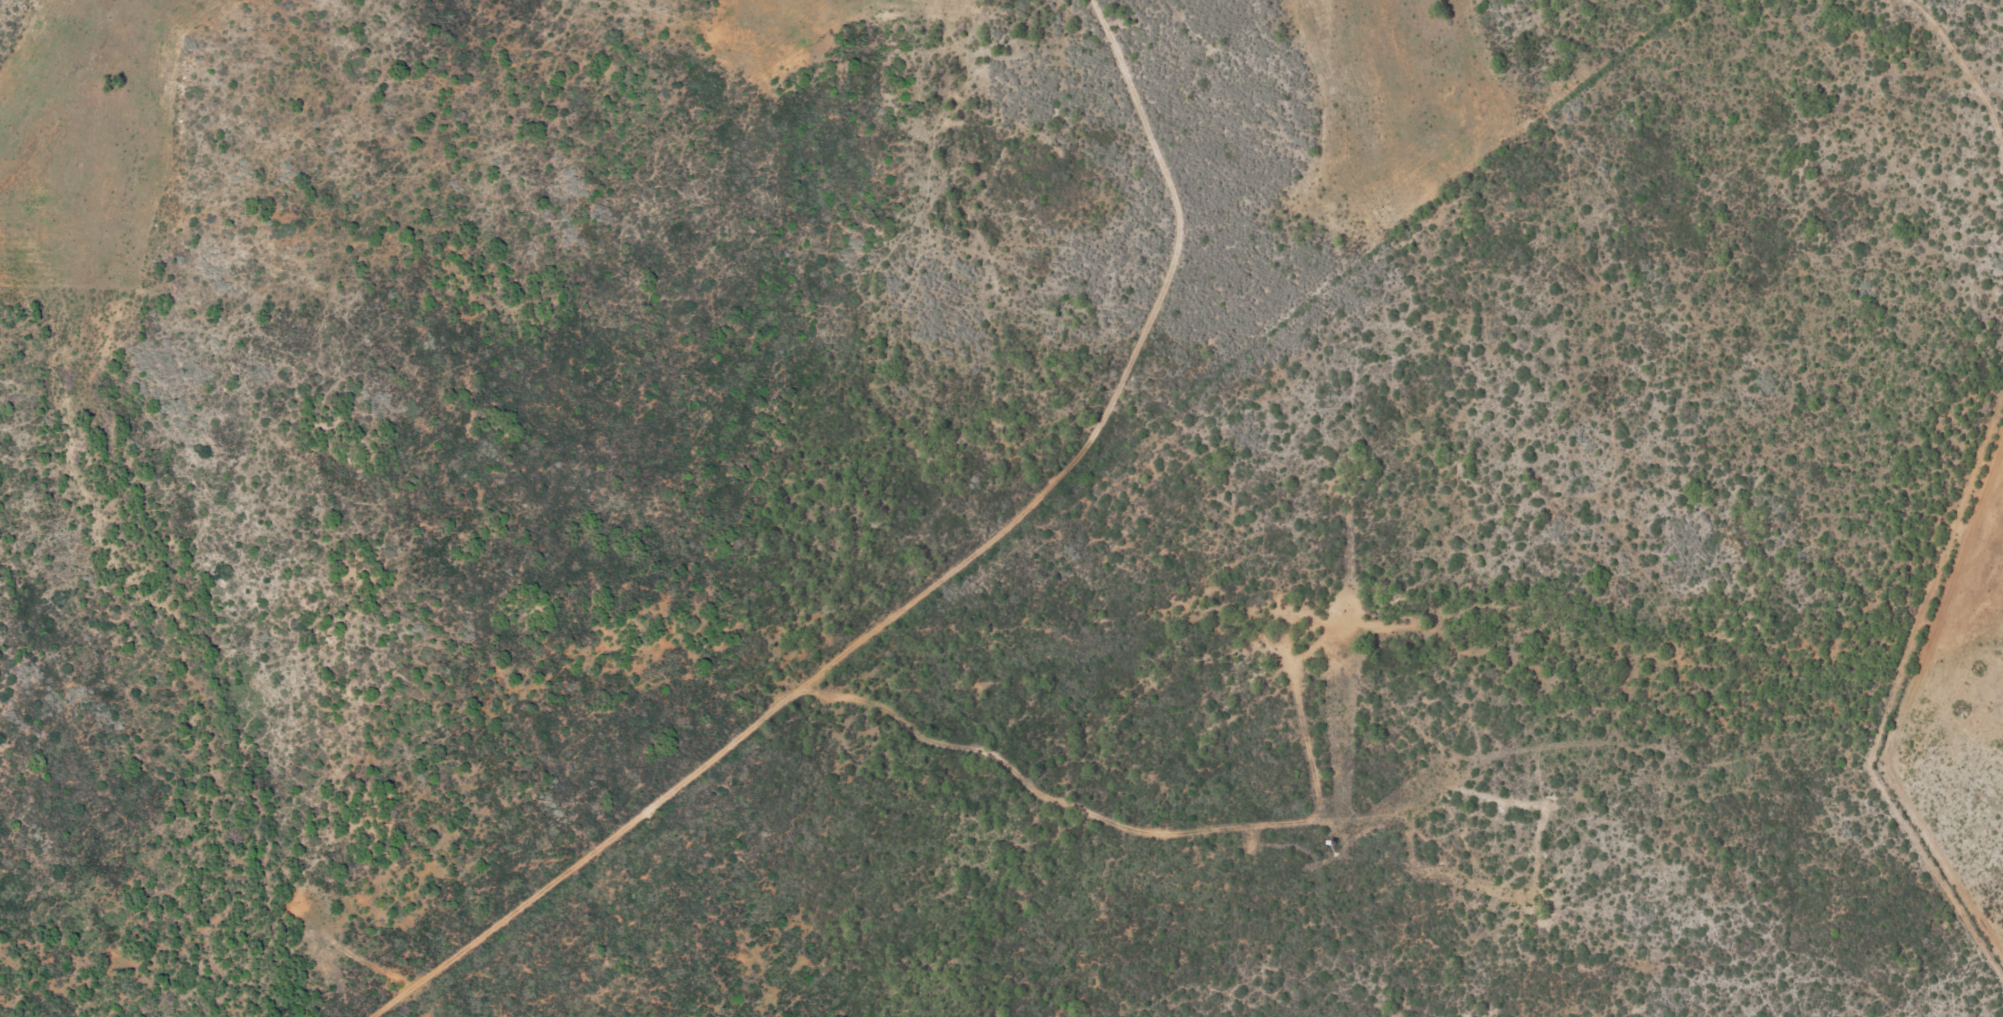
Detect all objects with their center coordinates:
road: (931, 592)

